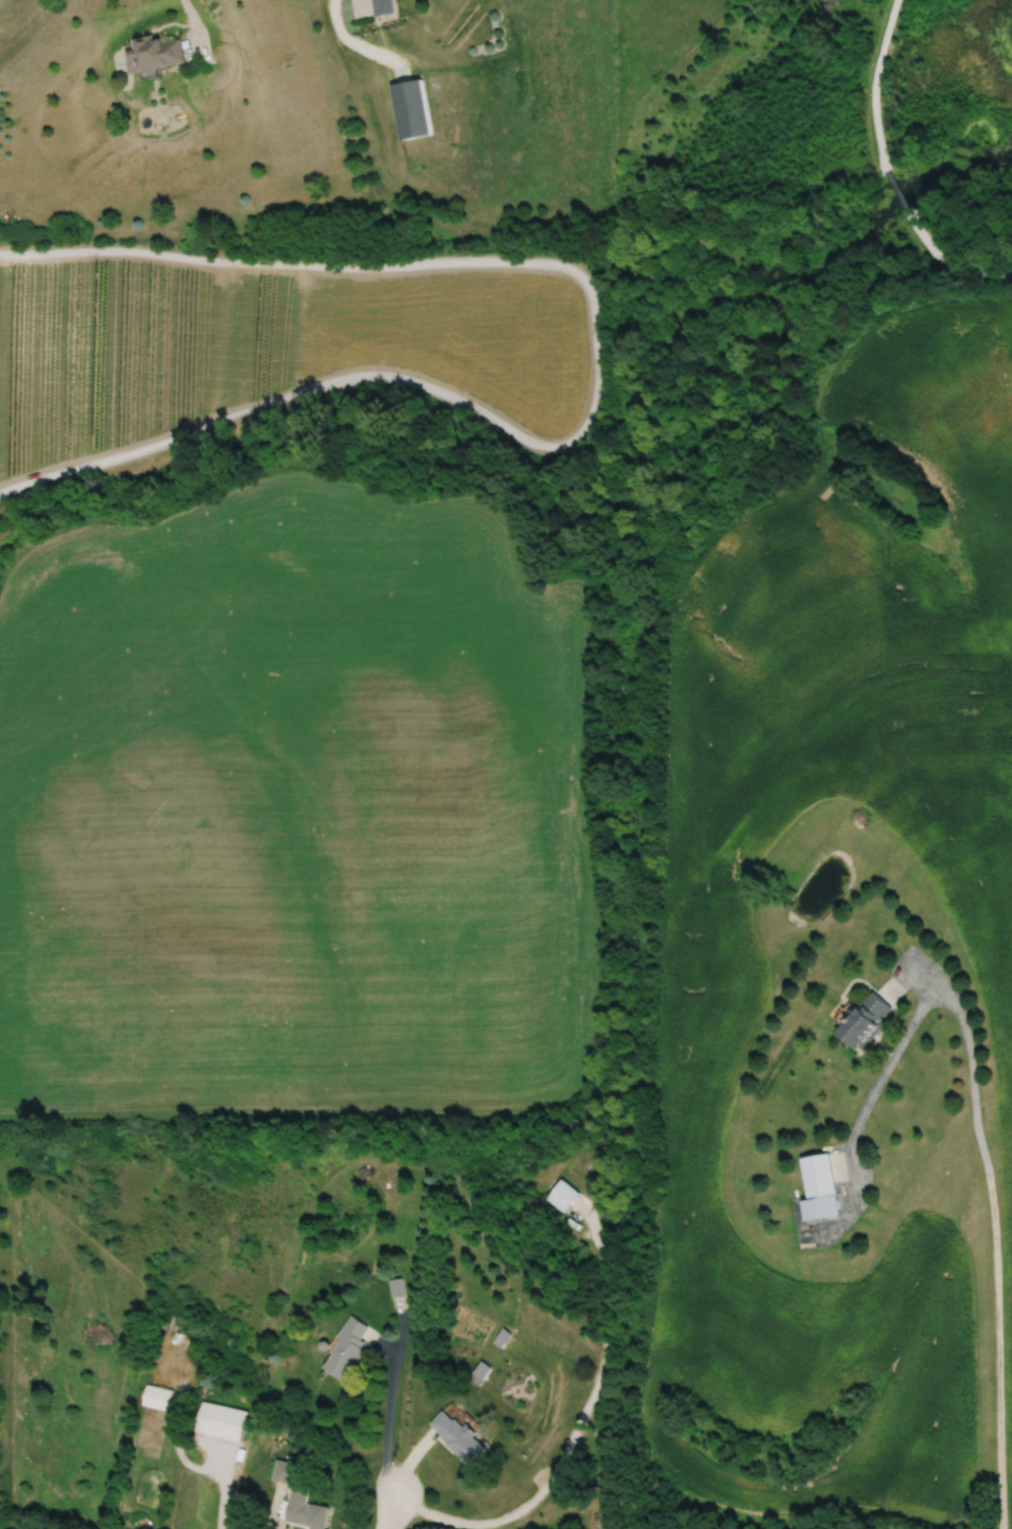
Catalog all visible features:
road: (358, 7)
building: (384, 8)
road: (195, 23)
road: (358, 43)
building: (155, 54)
road: (873, 83)
building: (412, 111)
road: (896, 189)
park: (698, 258)
road: (946, 264)
road: (596, 370)
crop: (705, 915)
building: (866, 1022)
road: (901, 1043)
building: (820, 1176)
building: (564, 1195)
building: (397, 1288)
road: (998, 1305)
building: (348, 1349)
building: (480, 1374)
building: (156, 1394)
building: (221, 1419)
road: (388, 1422)
building: (457, 1437)
road: (182, 1458)
building: (282, 1472)
building: (306, 1510)
road: (392, 1511)

